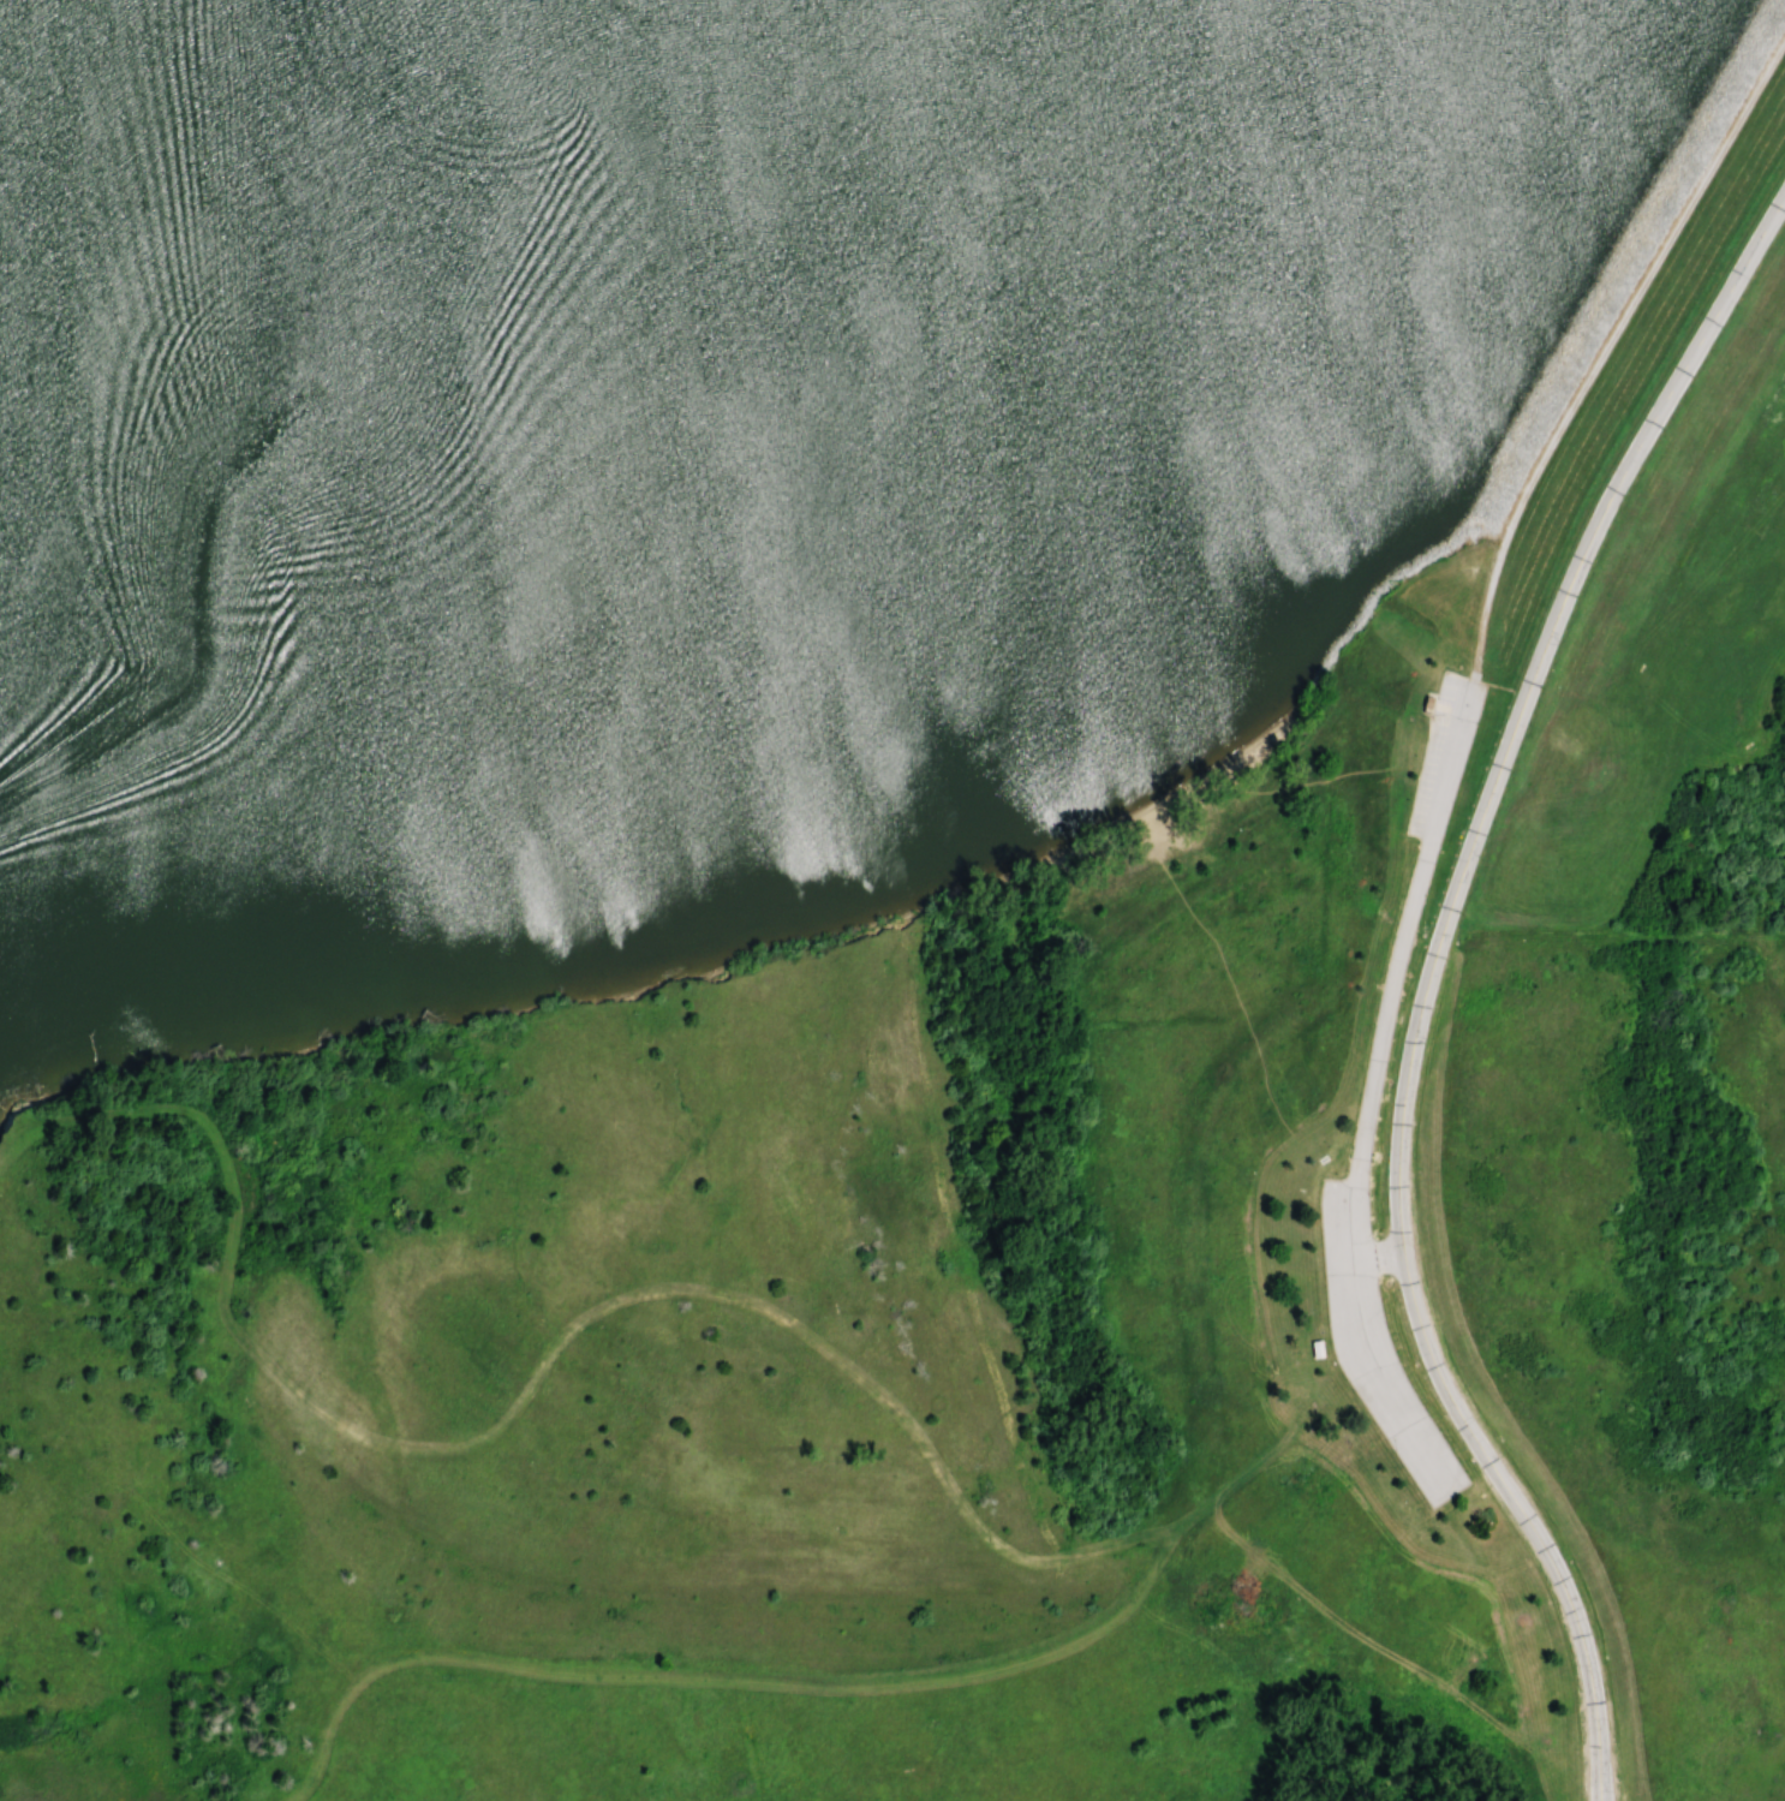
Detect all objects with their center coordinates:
road: (1604, 351)
parking lot: (1439, 756)
park: (783, 872)
road: (1423, 982)
road: (1384, 998)
parking lot: (1374, 1344)
road: (532, 1372)
road: (1380, 1386)
road: (837, 1684)

